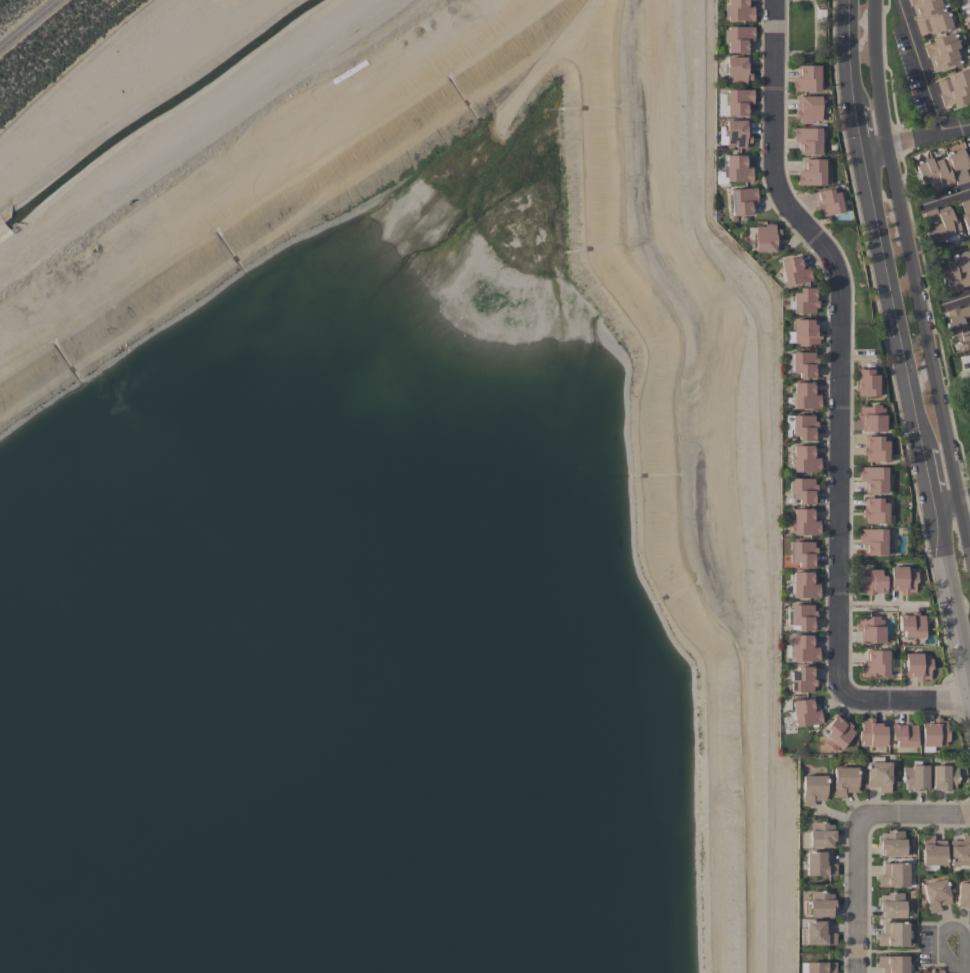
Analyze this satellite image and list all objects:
building: (968, 8)
building: (738, 10)
building: (929, 15)
road: (27, 22)
building: (969, 28)
building: (737, 38)
road: (873, 46)
building: (942, 51)
road: (917, 64)
building: (736, 69)
building: (806, 79)
building: (955, 88)
building: (737, 101)
building: (808, 108)
road: (880, 119)
road: (188, 130)
road: (927, 132)
building: (736, 133)
building: (807, 140)
building: (736, 168)
building: (942, 170)
building: (812, 172)
road: (945, 198)
building: (740, 200)
building: (829, 202)
building: (965, 215)
building: (939, 224)
building: (764, 238)
building: (954, 270)
building: (793, 271)
road: (915, 292)
building: (804, 300)
road: (956, 300)
building: (958, 323)
building: (803, 332)
road: (902, 334)
building: (964, 361)
building: (803, 363)
building: (866, 382)
building: (805, 396)
road: (840, 402)
building: (871, 417)
building: (800, 426)
building: (875, 448)
building: (804, 459)
road: (951, 467)
building: (874, 479)
building: (802, 490)
road: (963, 496)
building: (874, 511)
building: (803, 522)
road: (963, 527)
building: (873, 541)
building: (802, 553)
road: (969, 559)
building: (902, 579)
building: (871, 581)
building: (803, 585)
road: (878, 606)
building: (802, 616)
building: (910, 624)
building: (870, 629)
building: (801, 649)
building: (874, 663)
building: (917, 666)
building: (802, 679)
building: (805, 713)
building: (933, 732)
building: (837, 733)
building: (871, 733)
building: (903, 734)
building: (878, 775)
building: (914, 777)
building: (943, 777)
building: (843, 780)
building: (812, 789)
building: (820, 834)
road: (853, 840)
building: (892, 843)
building: (959, 851)
building: (932, 852)
building: (818, 863)
building: (893, 875)
building: (935, 894)
building: (963, 895)
building: (818, 904)
building: (891, 905)
road: (952, 929)
building: (816, 933)
building: (893, 934)
building: (892, 964)
building: (817, 967)
road: (959, 972)

